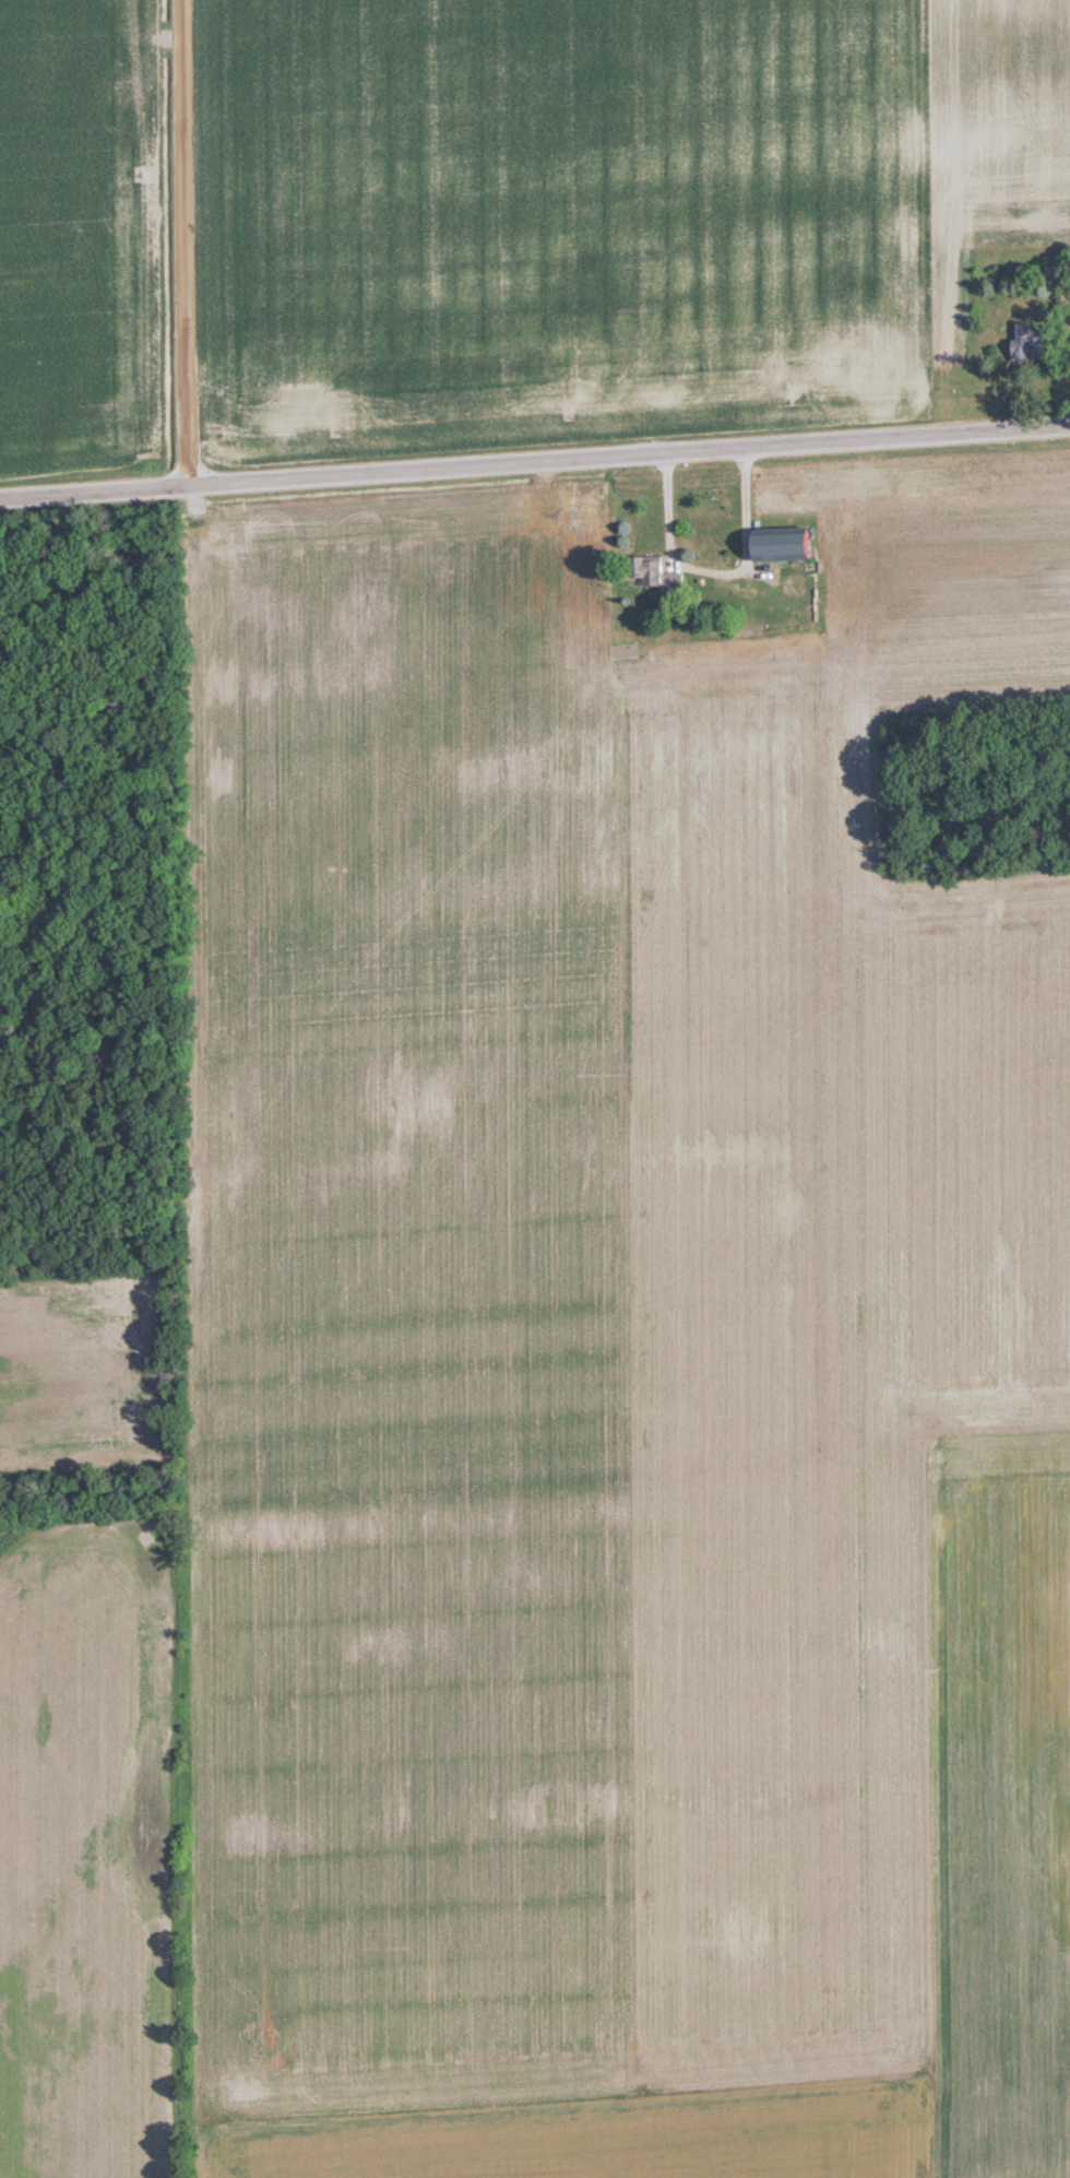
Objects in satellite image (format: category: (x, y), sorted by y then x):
road: (183, 242)
building: (1034, 342)
road: (534, 462)
building: (794, 545)
road: (715, 571)
building: (666, 577)

